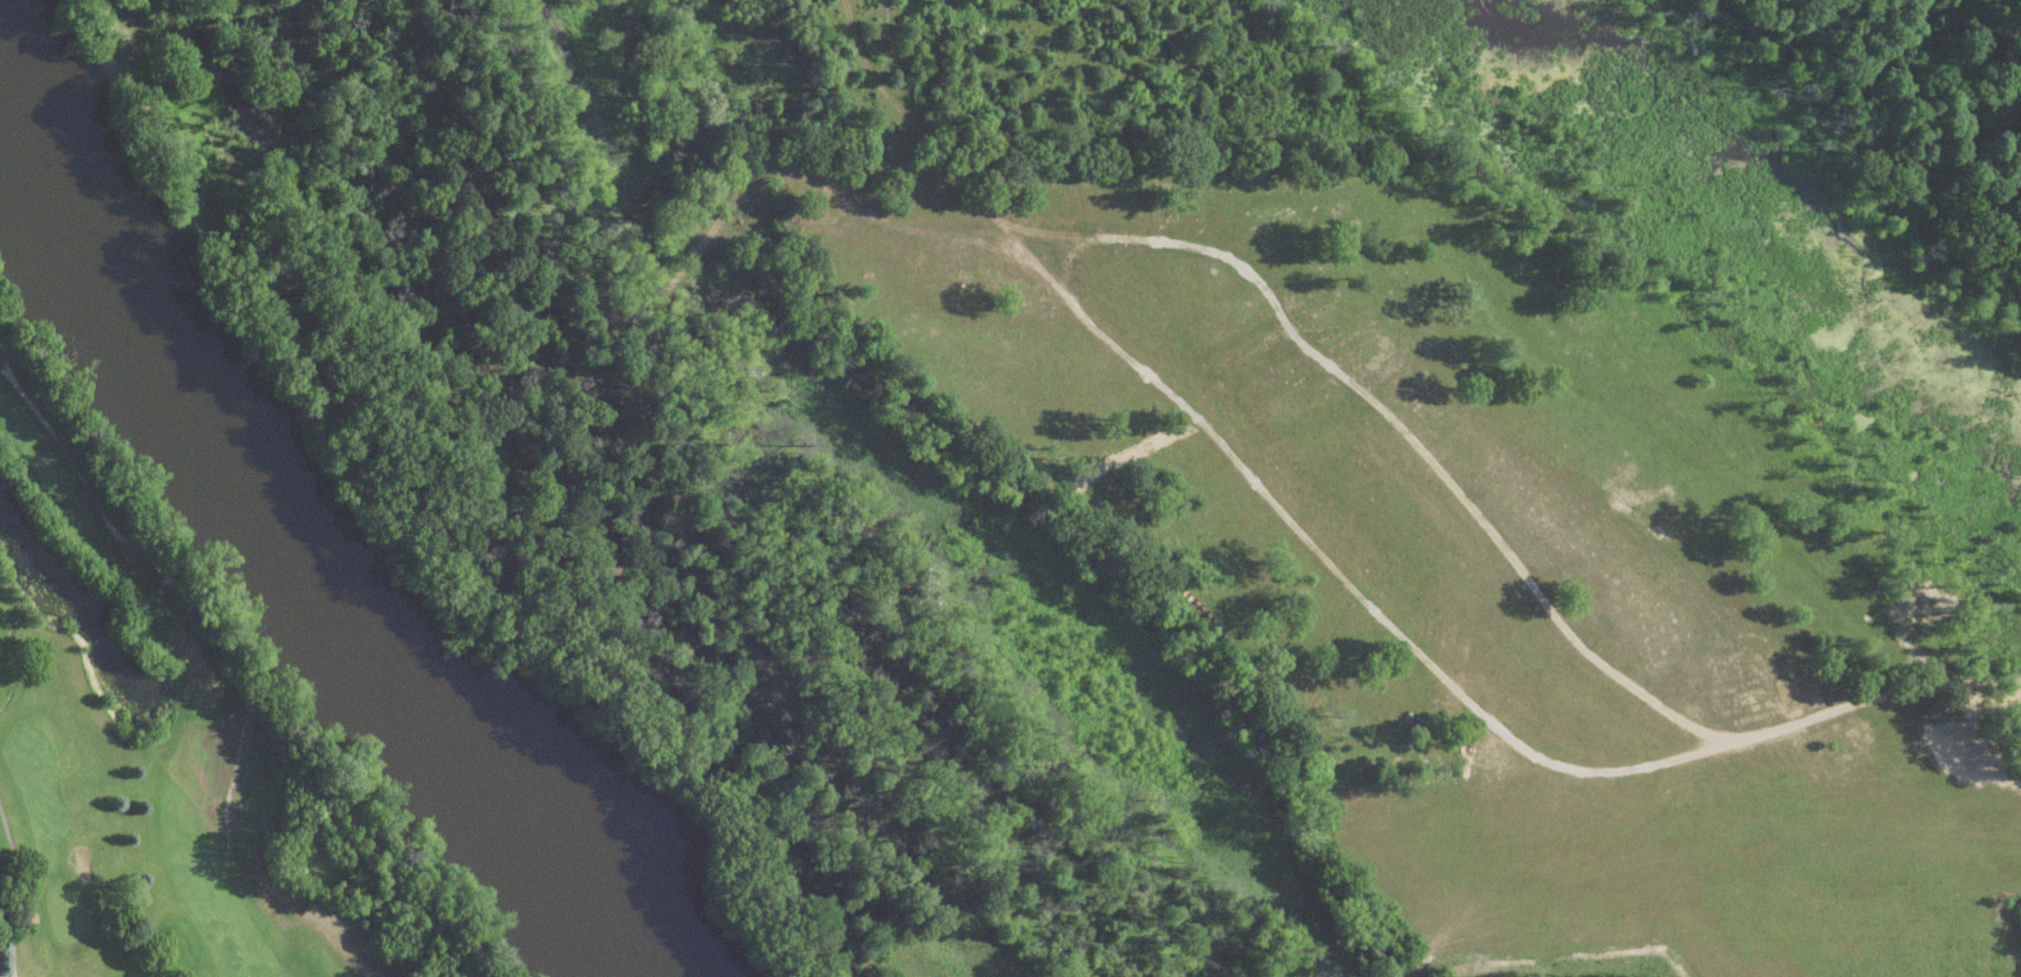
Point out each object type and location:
road: (1494, 535)
river: (295, 544)
road: (1480, 708)
building: (1853, 740)
park: (178, 741)
airport runway: (1762, 833)

